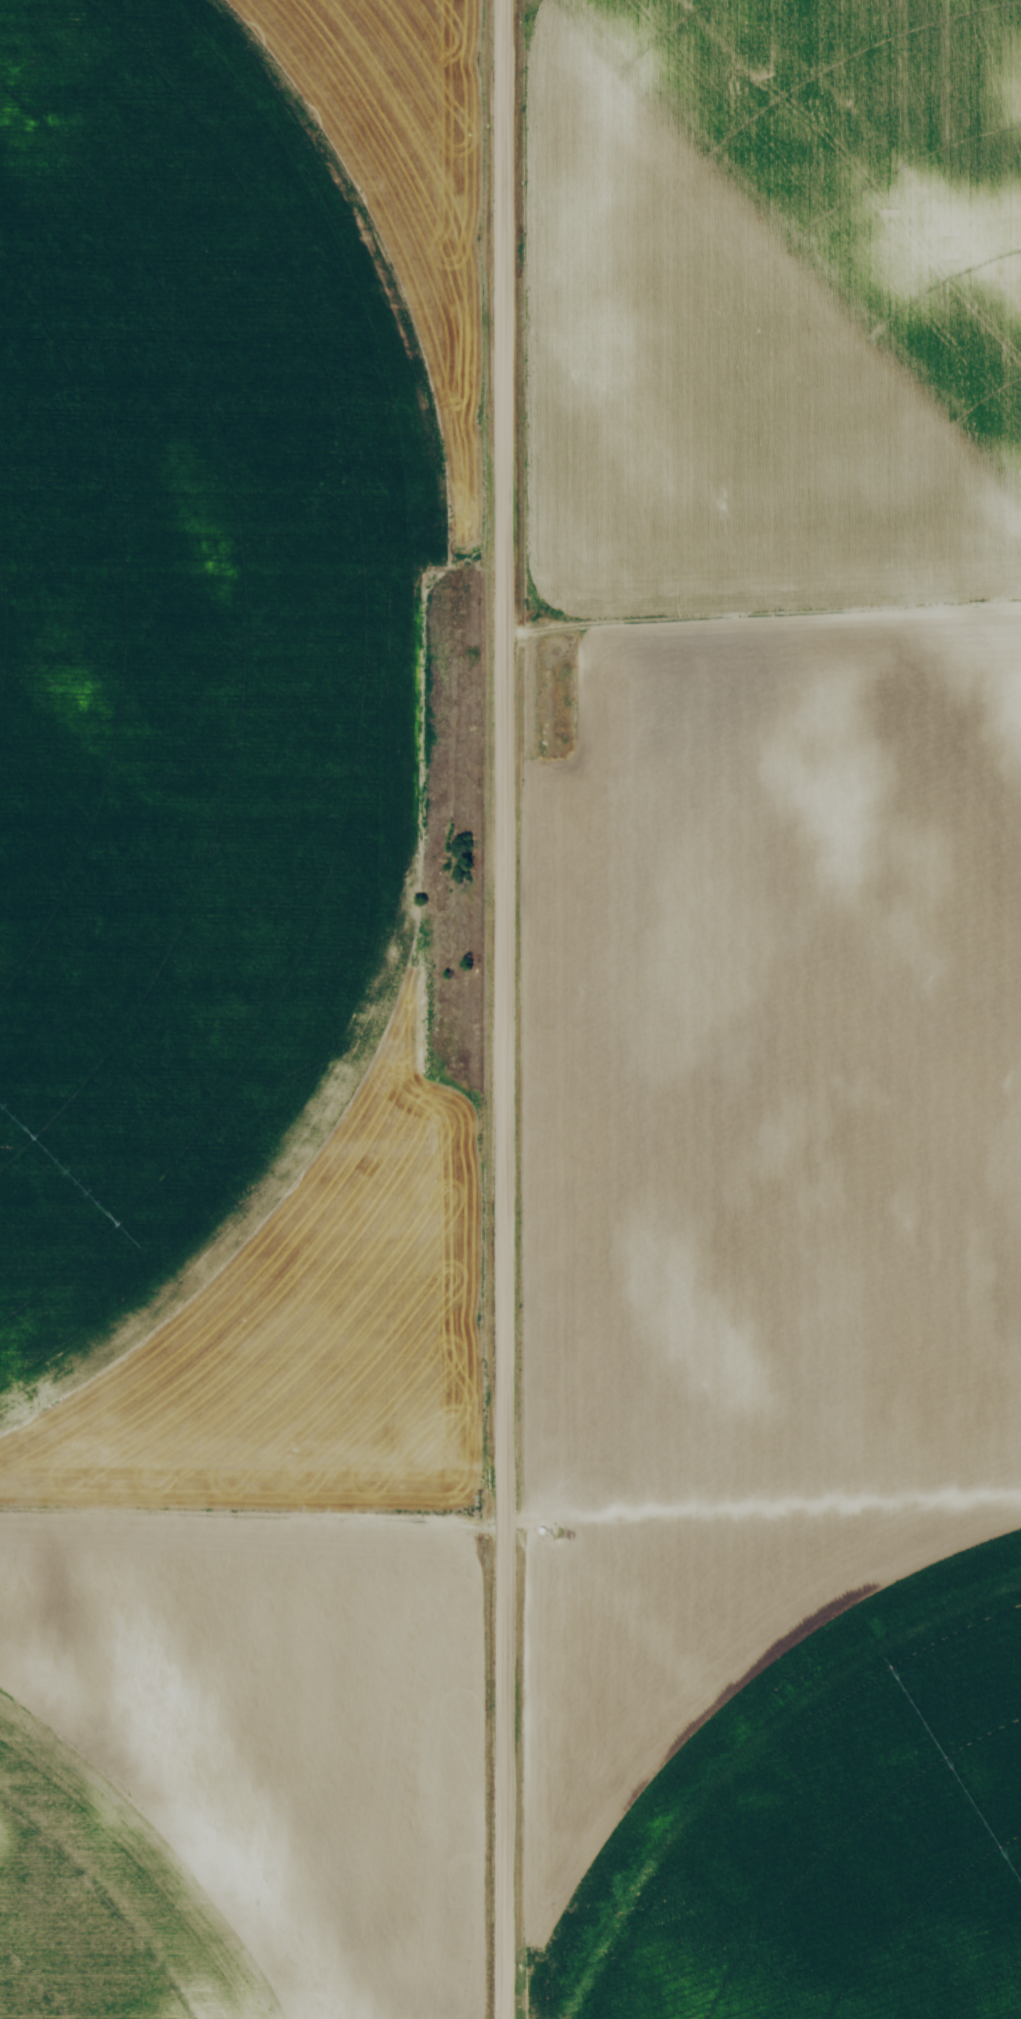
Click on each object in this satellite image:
road: (501, 1009)
crop: (769, 1012)
crop: (234, 1015)

